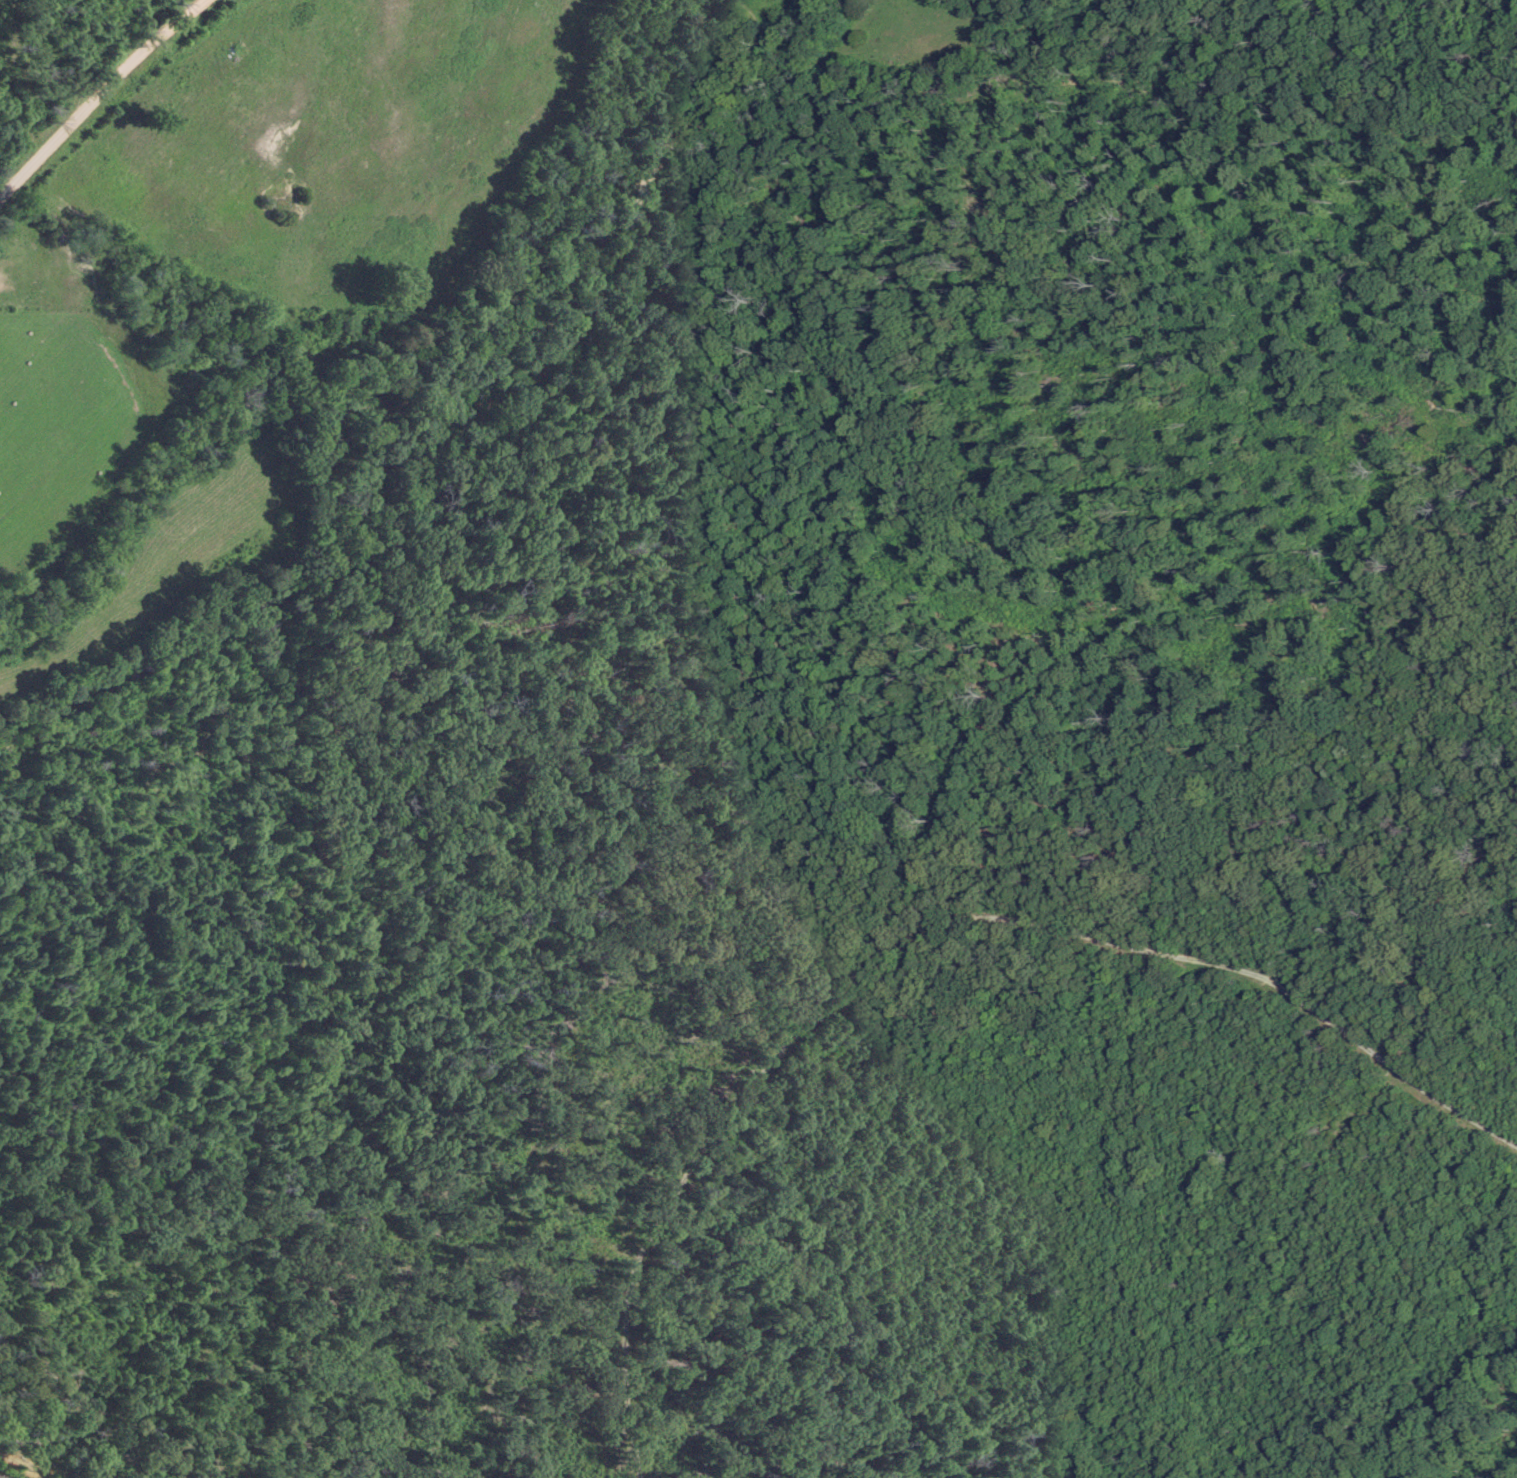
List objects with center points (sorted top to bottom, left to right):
road: (100, 94)
road: (922, 936)

